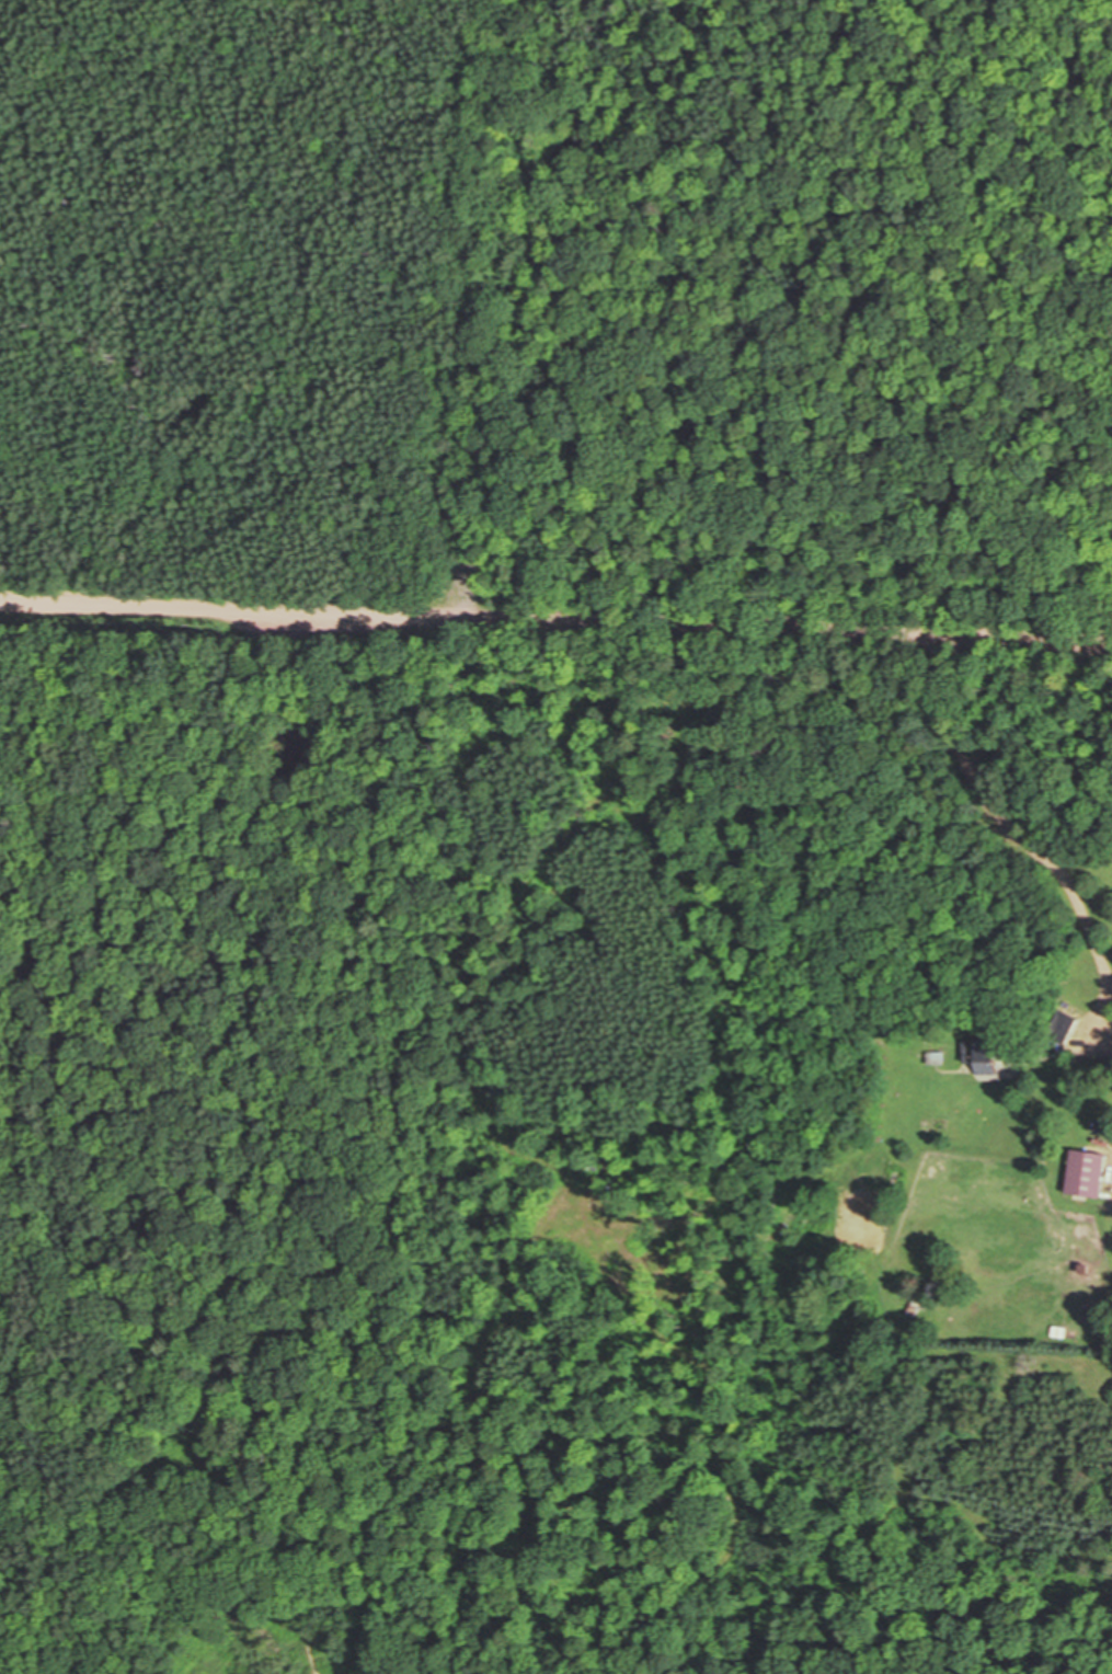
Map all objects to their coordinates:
road: (555, 621)
road: (391, 796)
building: (998, 1056)
building: (1093, 1173)
landfill: (223, 1672)

